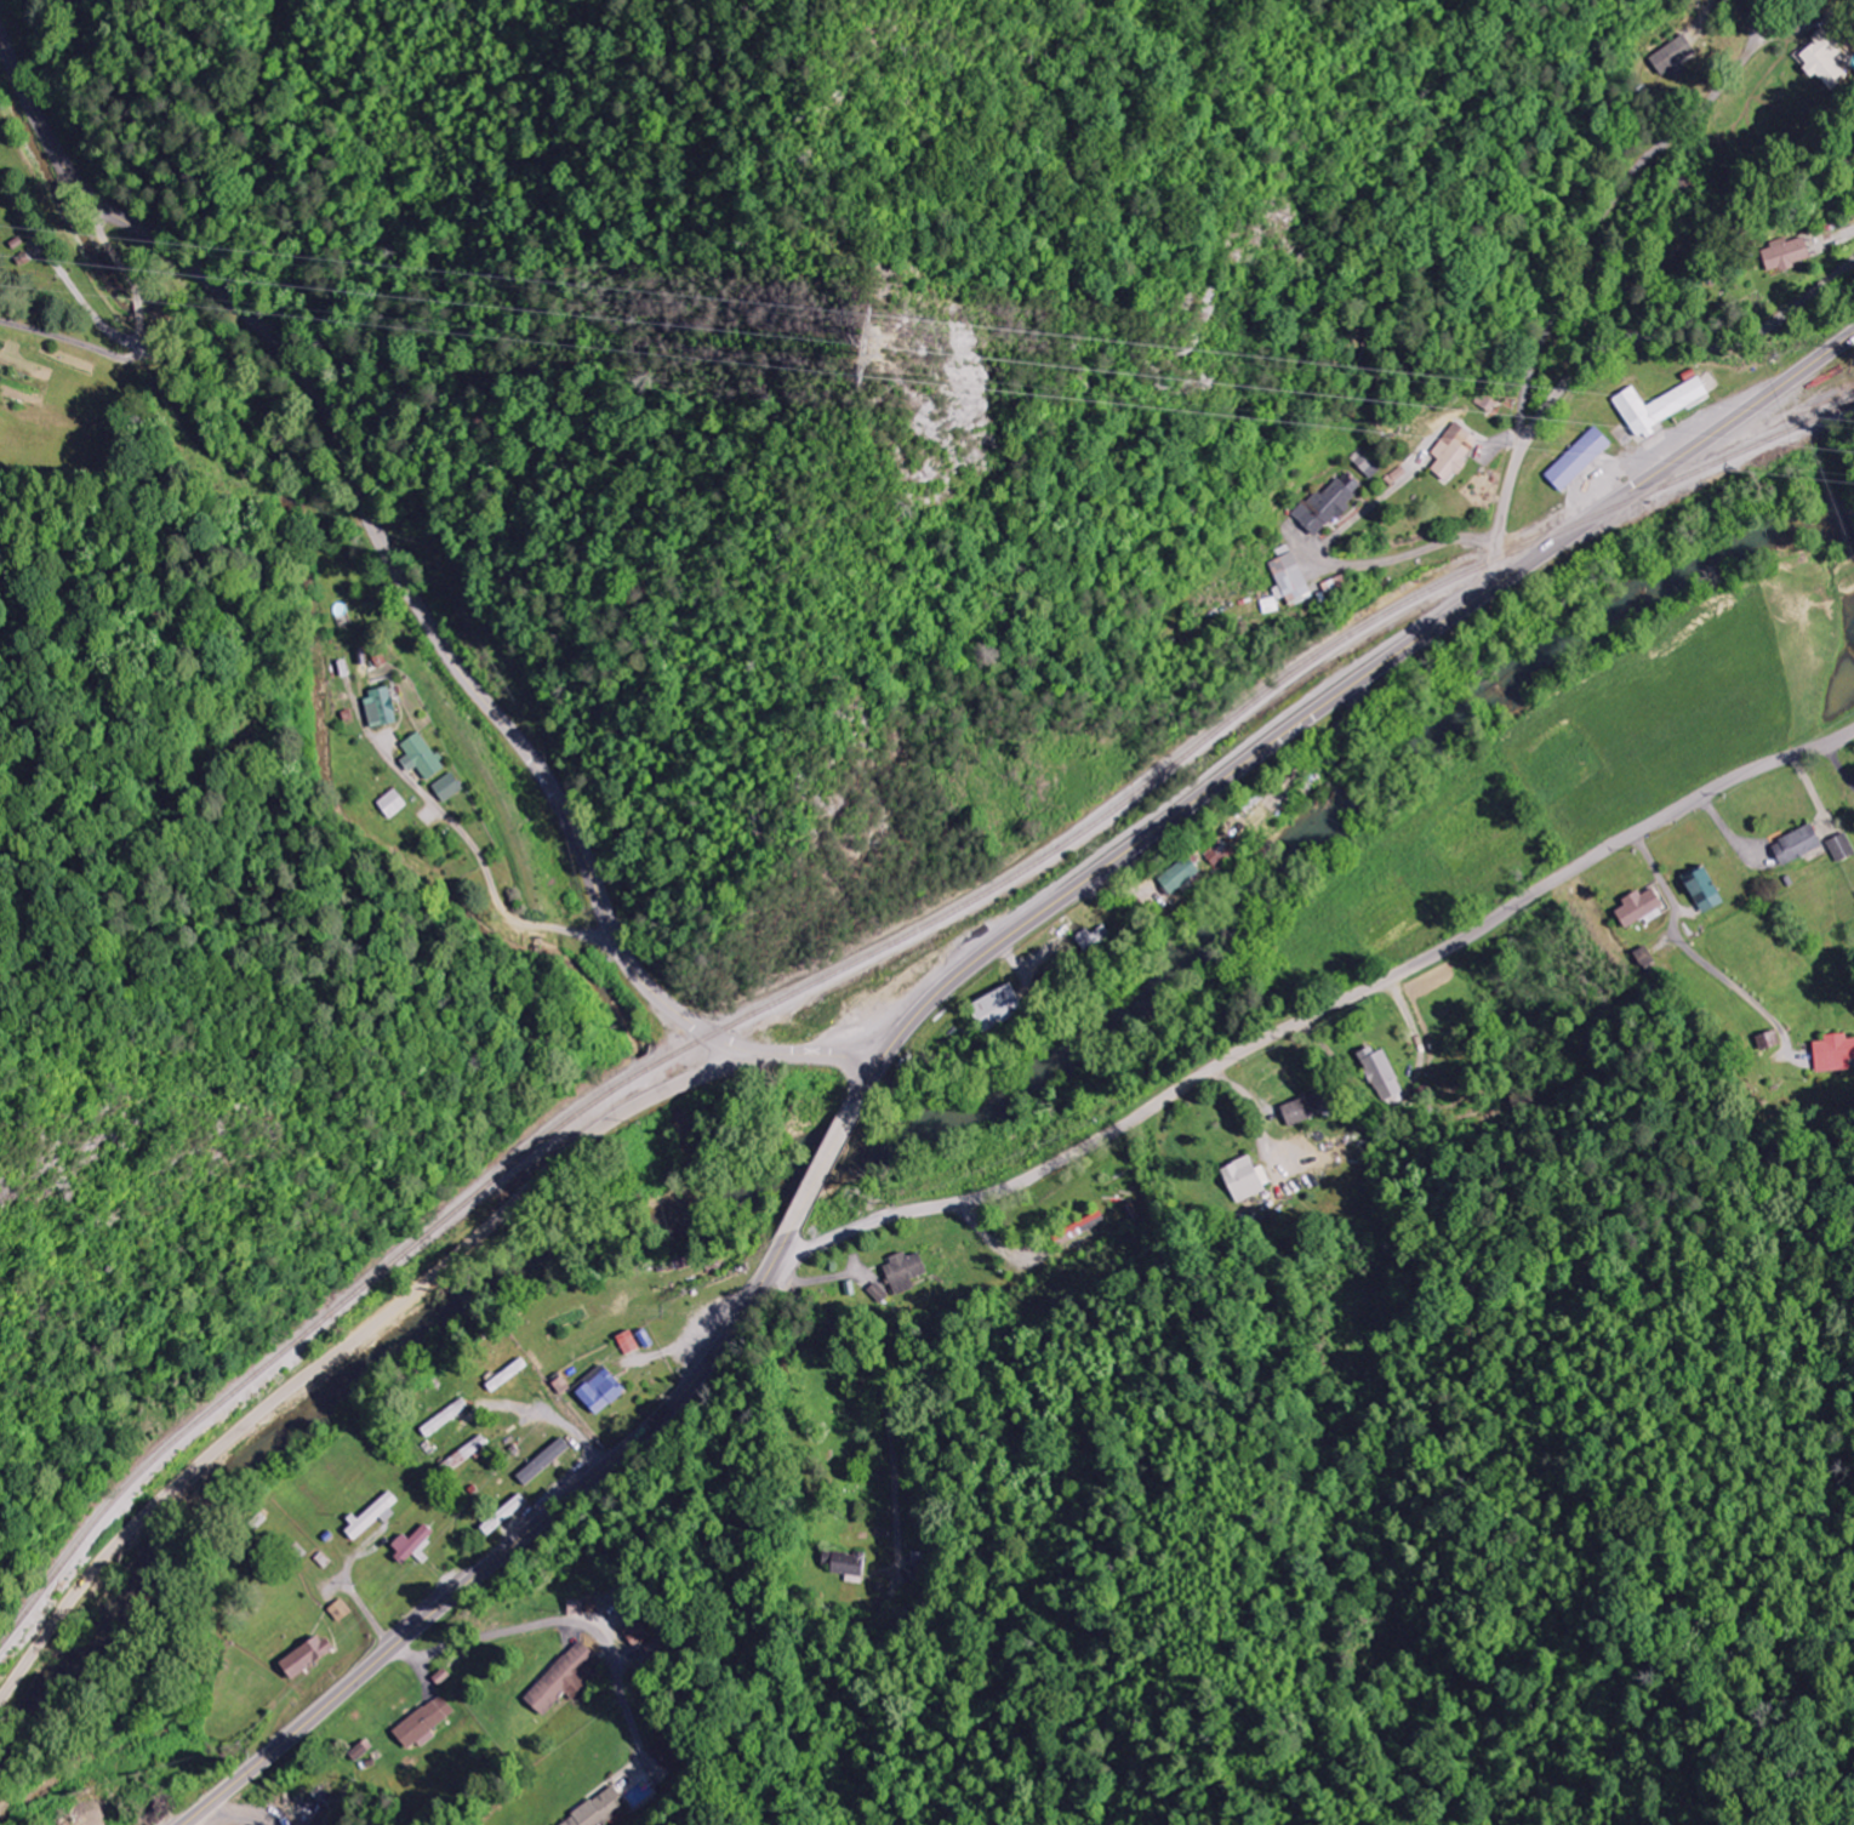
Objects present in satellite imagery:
building: (1827, 61)
road: (1607, 211)
building: (1798, 251)
road: (1608, 344)
building: (1662, 406)
building: (1456, 450)
building: (1581, 458)
building: (1367, 466)
building: (1328, 506)
building: (1289, 583)
road: (416, 598)
building: (383, 709)
railway: (1219, 729)
building: (423, 757)
building: (450, 787)
building: (392, 804)
building: (1802, 844)
building: (1843, 846)
building: (1223, 852)
road: (1658, 872)
building: (1181, 876)
road: (496, 879)
building: (1706, 891)
building: (1642, 907)
building: (1096, 939)
building: (1647, 957)
road: (937, 998)
building: (1006, 1006)
road: (1323, 1009)
building: (1836, 1053)
building: (1382, 1074)
building: (1314, 1106)
building: (1248, 1179)
building: (1082, 1227)
building: (907, 1271)
building: (879, 1293)
road: (353, 1341)
building: (631, 1342)
railway: (283, 1348)
road: (889, 1390)
building: (605, 1391)
road: (567, 1425)
building: (547, 1461)
building: (376, 1515)
building: (507, 1515)
building: (851, 1563)
building: (578, 1608)
building: (341, 1612)
building: (638, 1632)
building: (309, 1656)
building: (565, 1678)
building: (427, 1723)
building: (667, 1753)
building: (601, 1810)

